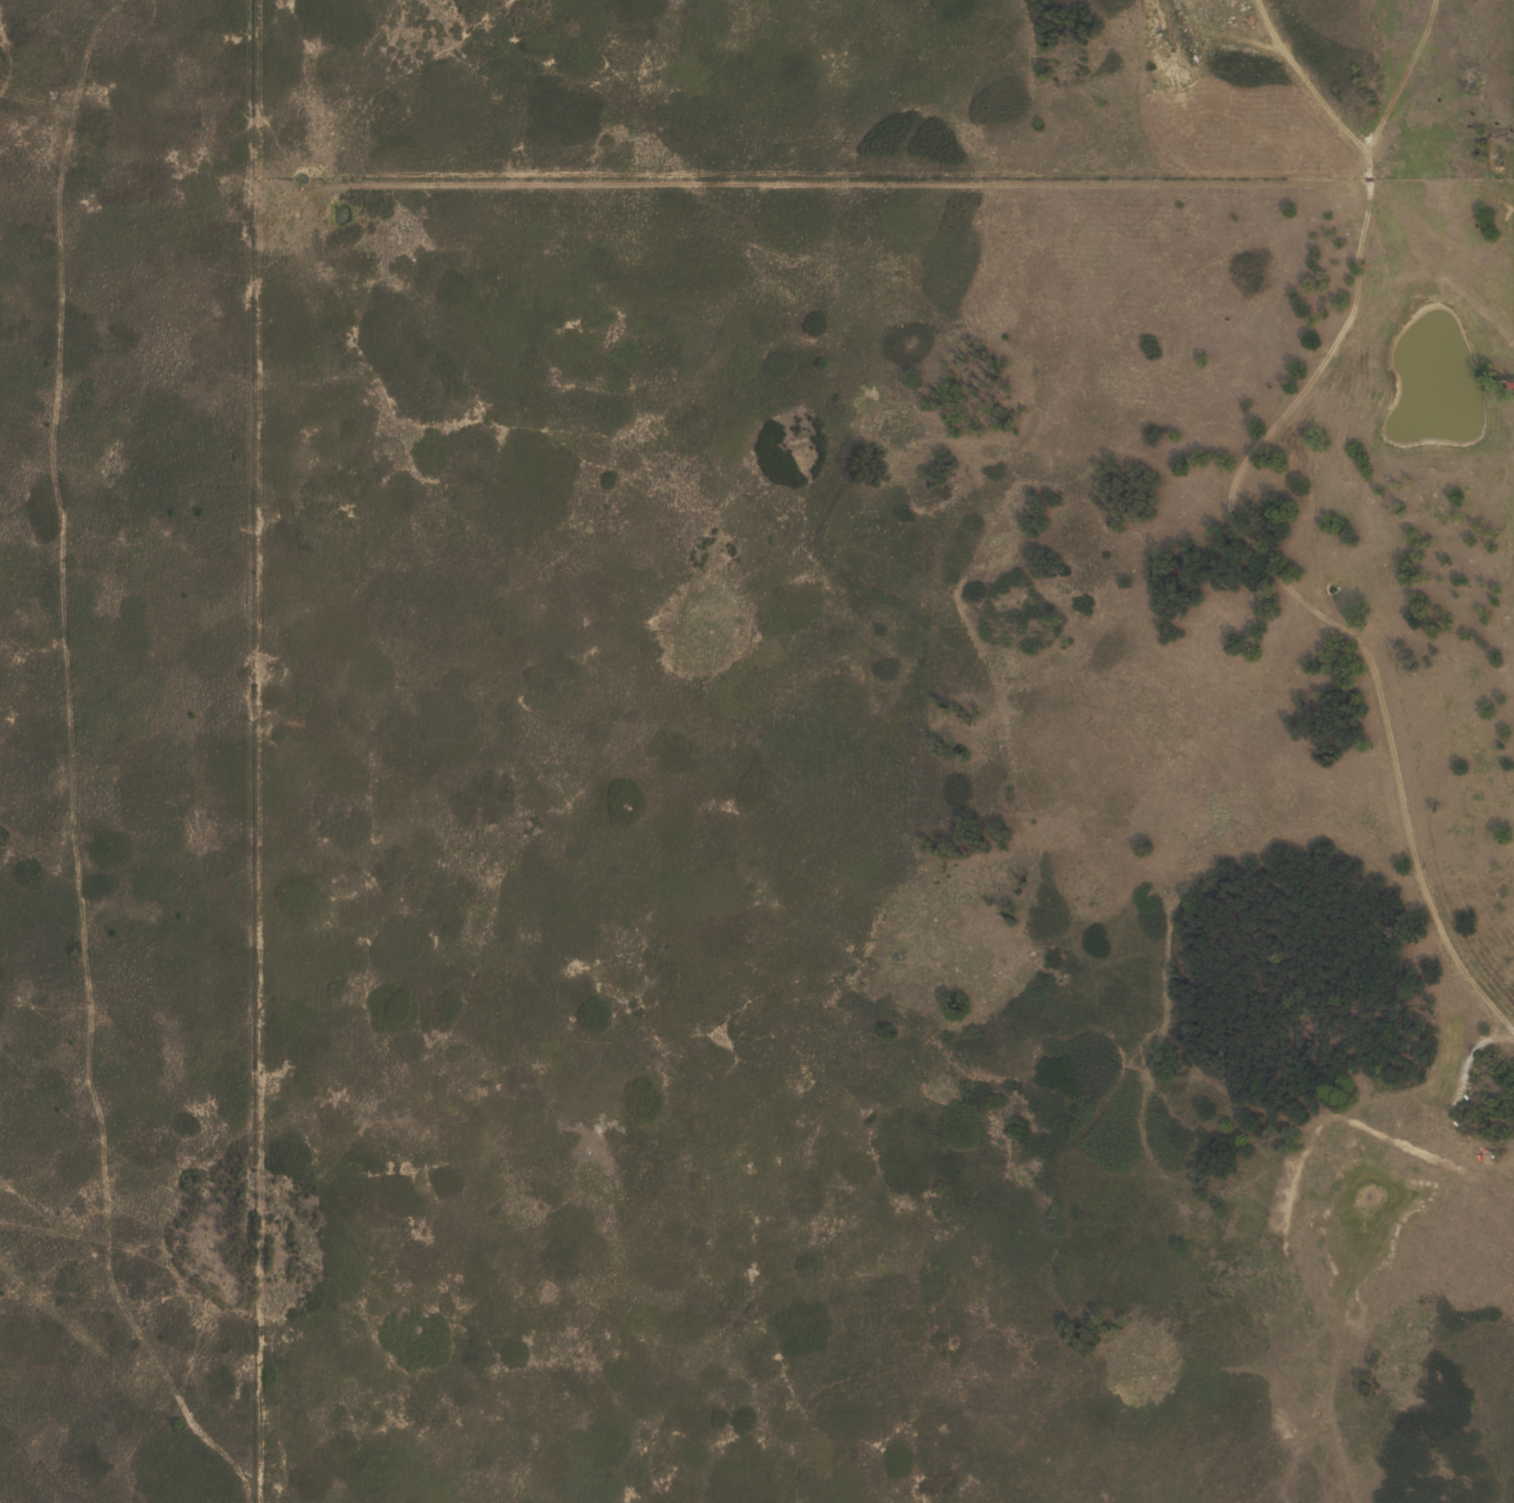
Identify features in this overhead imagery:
road: (1348, 521)

